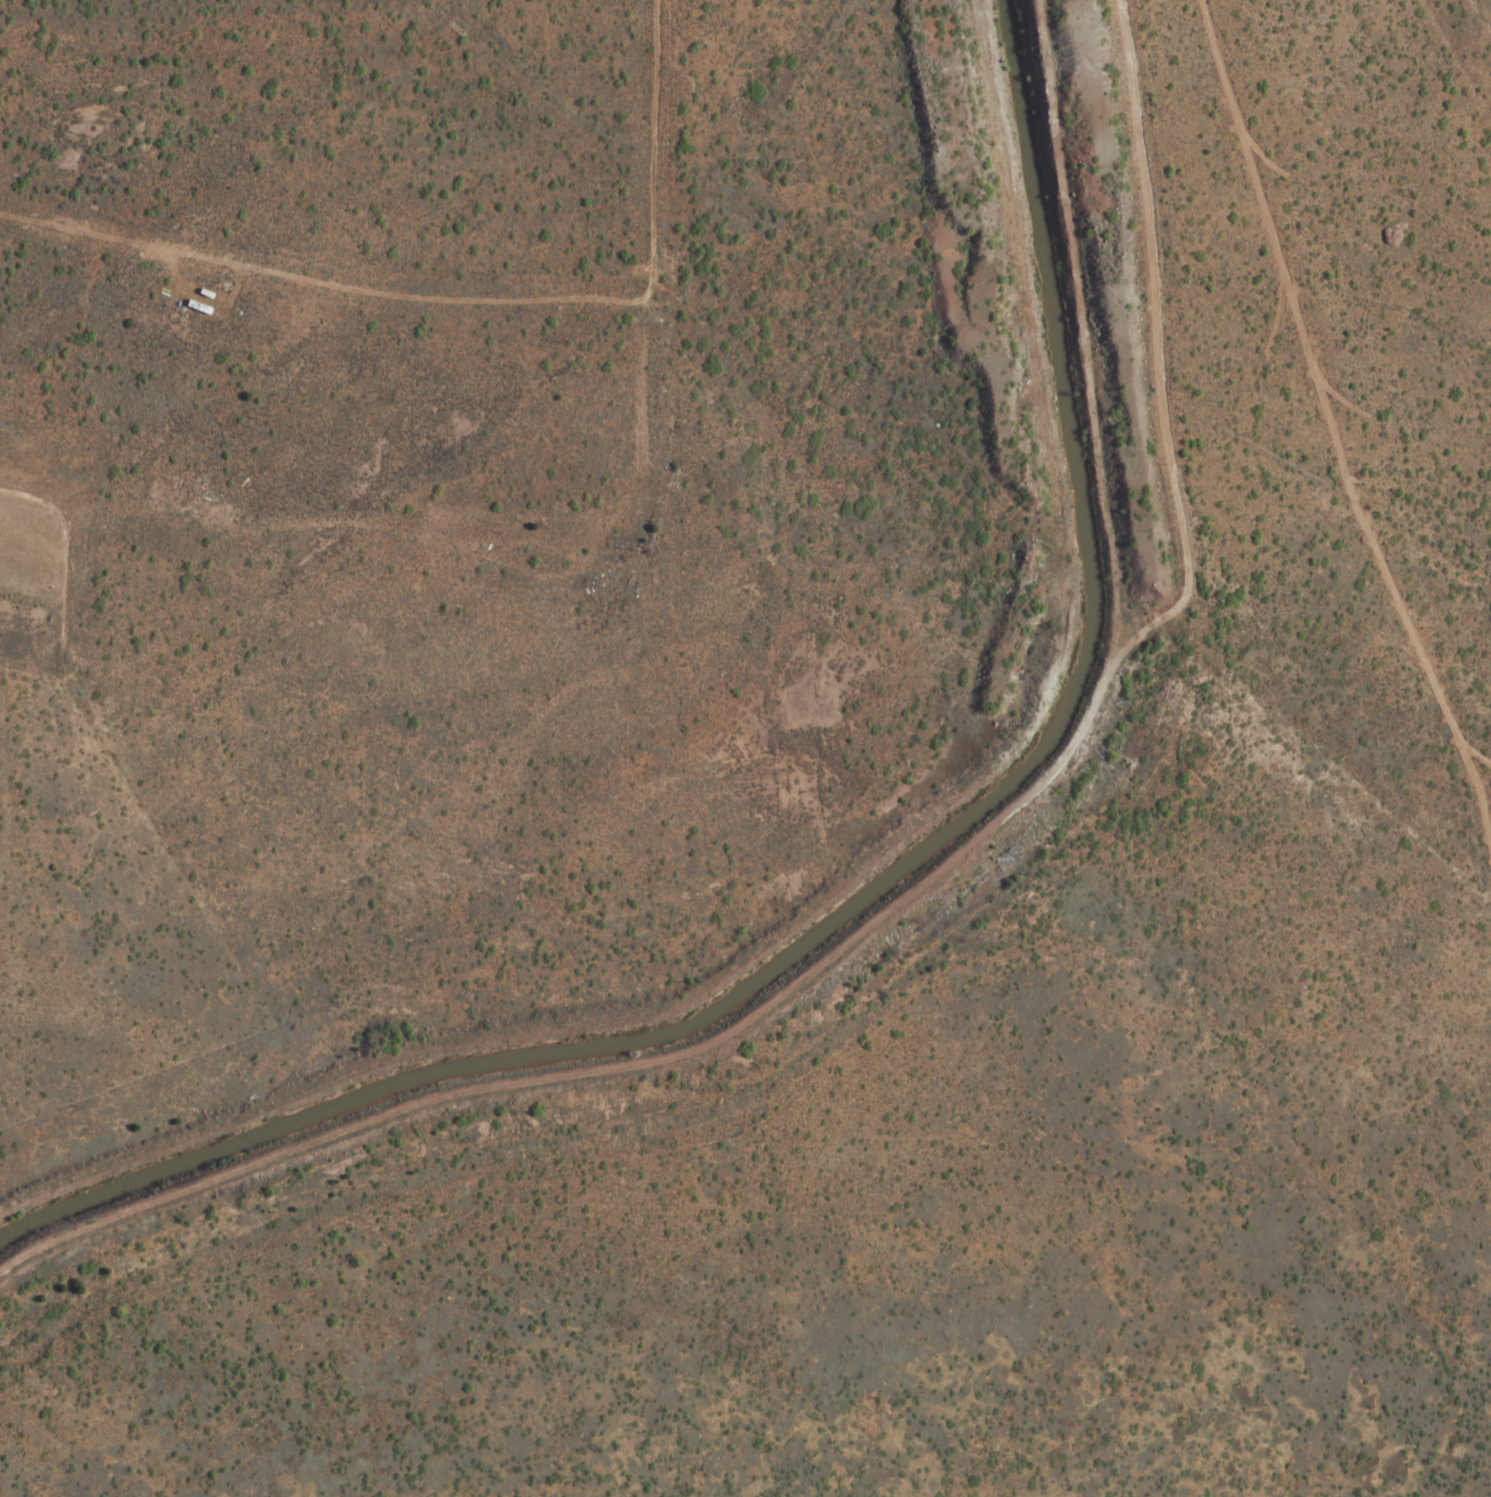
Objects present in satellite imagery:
road: (321, 282)

